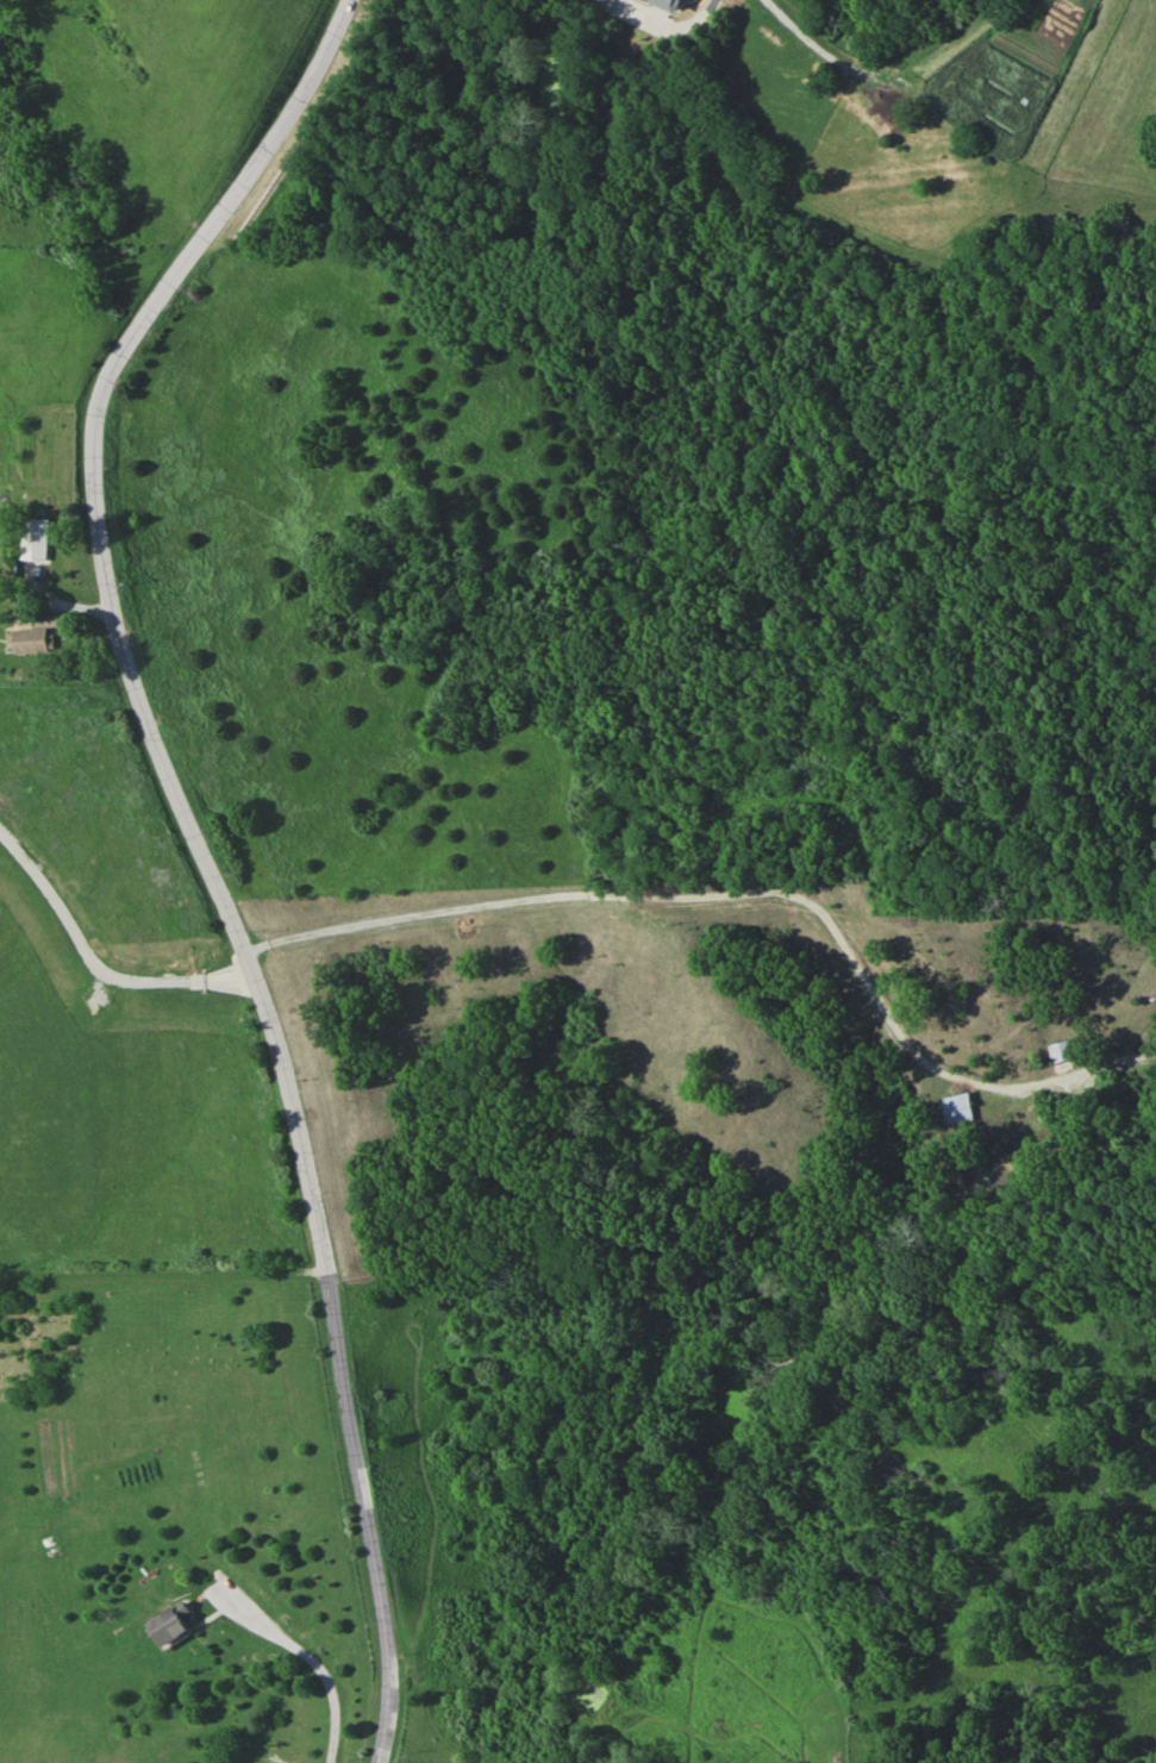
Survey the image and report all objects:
road: (827, 50)
road: (508, 226)
building: (32, 544)
building: (29, 638)
road: (195, 849)
road: (732, 895)
road: (94, 968)
building: (1058, 1051)
building: (956, 1108)
road: (162, 1276)
building: (170, 1623)
road: (305, 1657)

